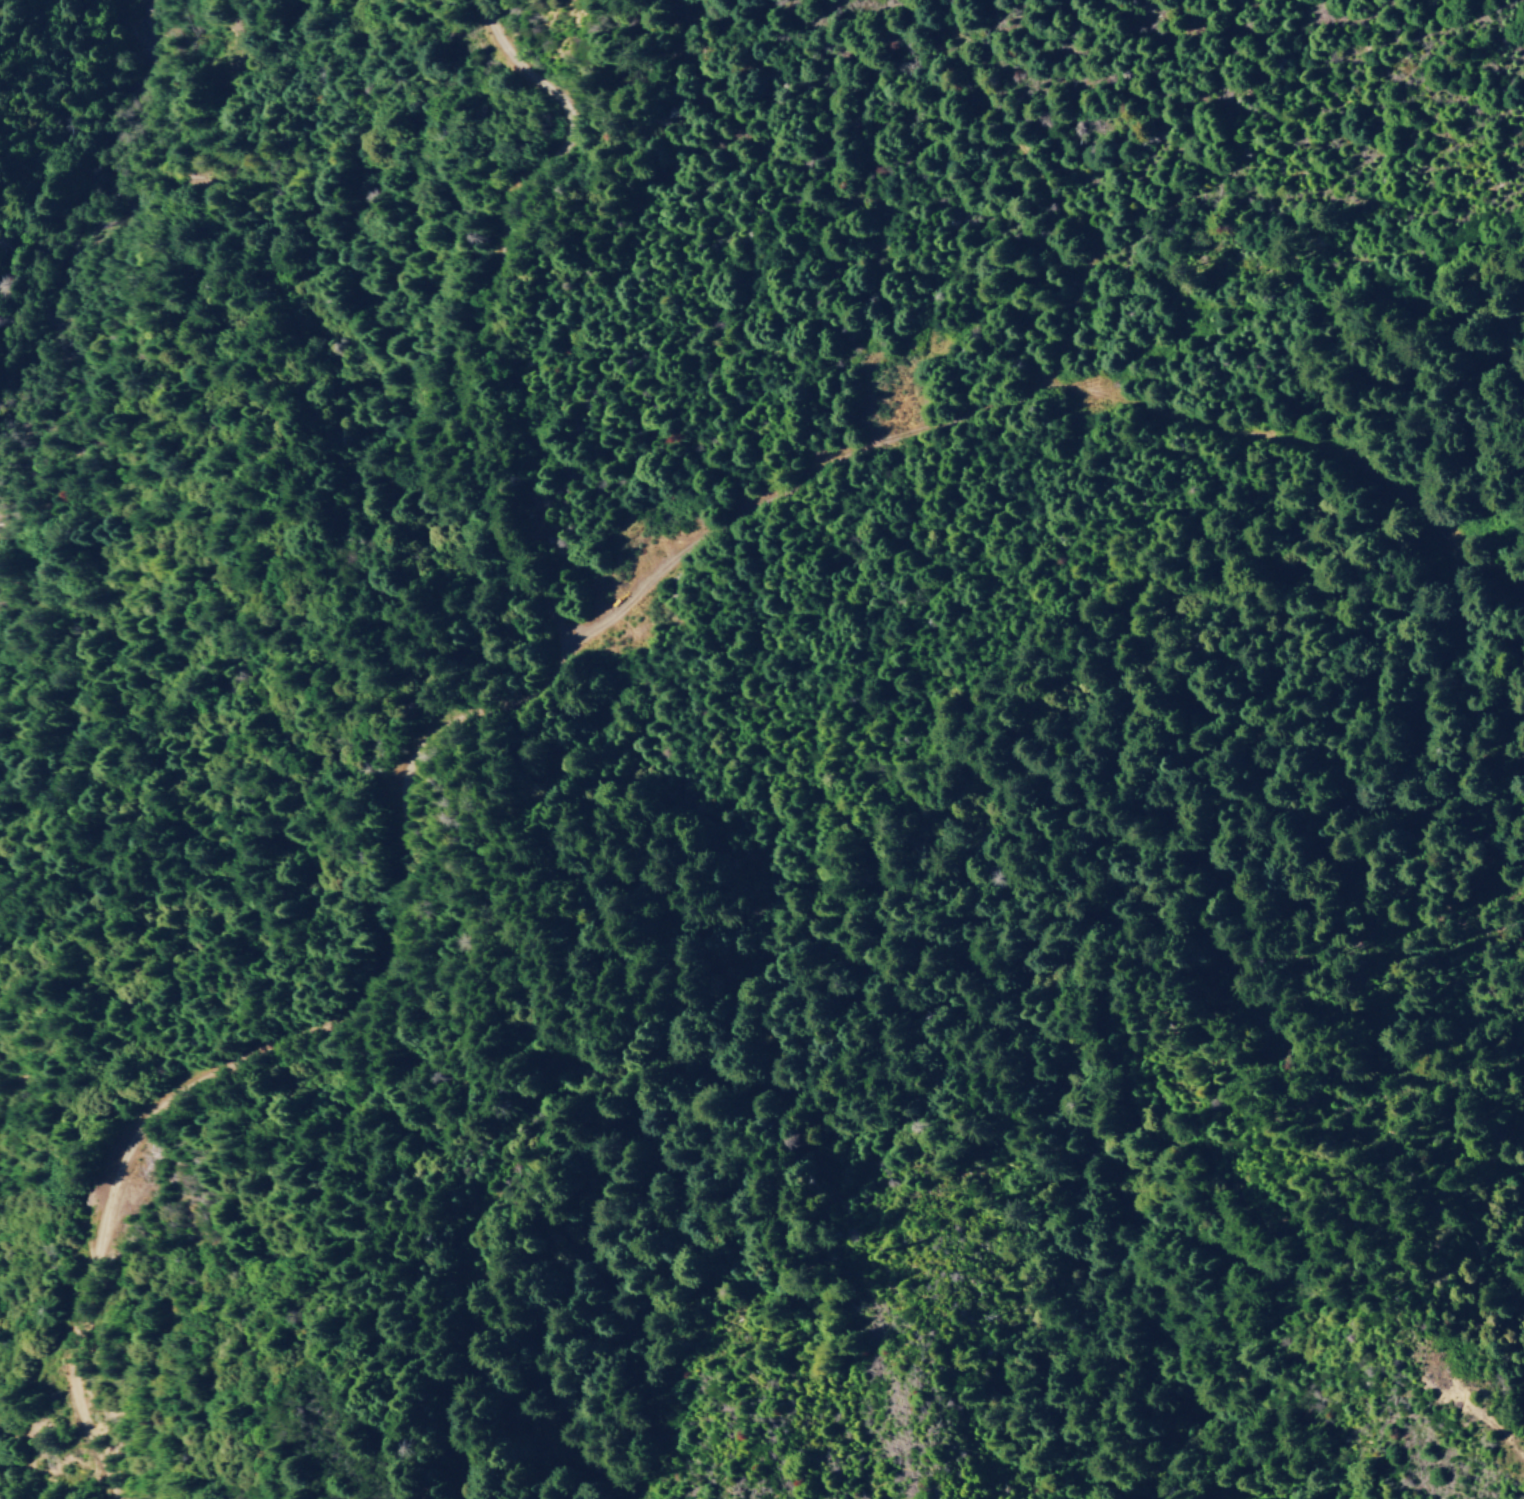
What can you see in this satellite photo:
road: (1076, 205)
road: (1026, 436)
road: (401, 756)

